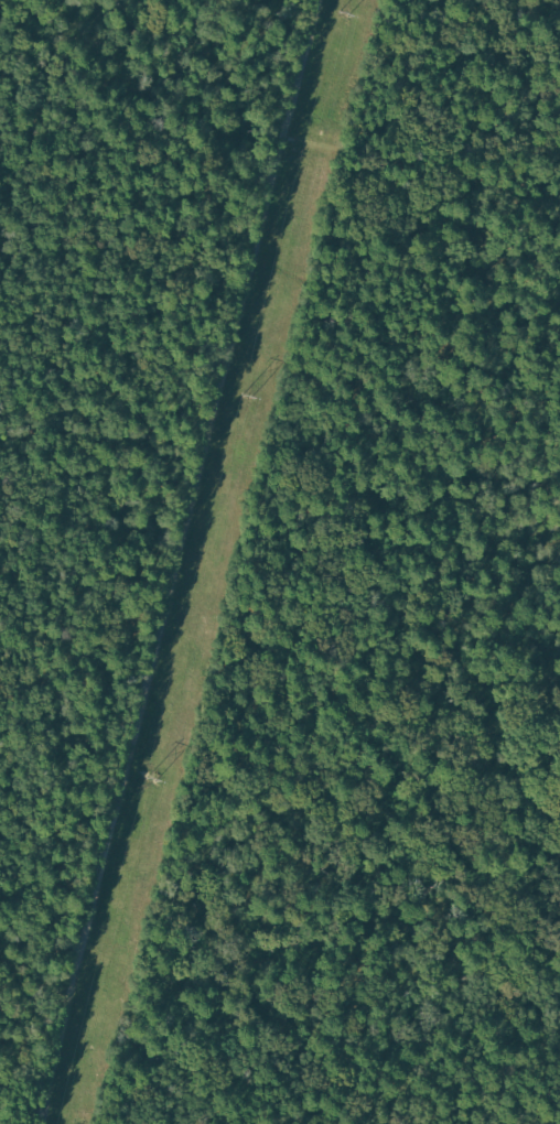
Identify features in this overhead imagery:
power tower: (344, 15)
road: (183, 45)
road: (429, 164)
power tower: (249, 397)
road: (193, 562)
power tower: (152, 779)

